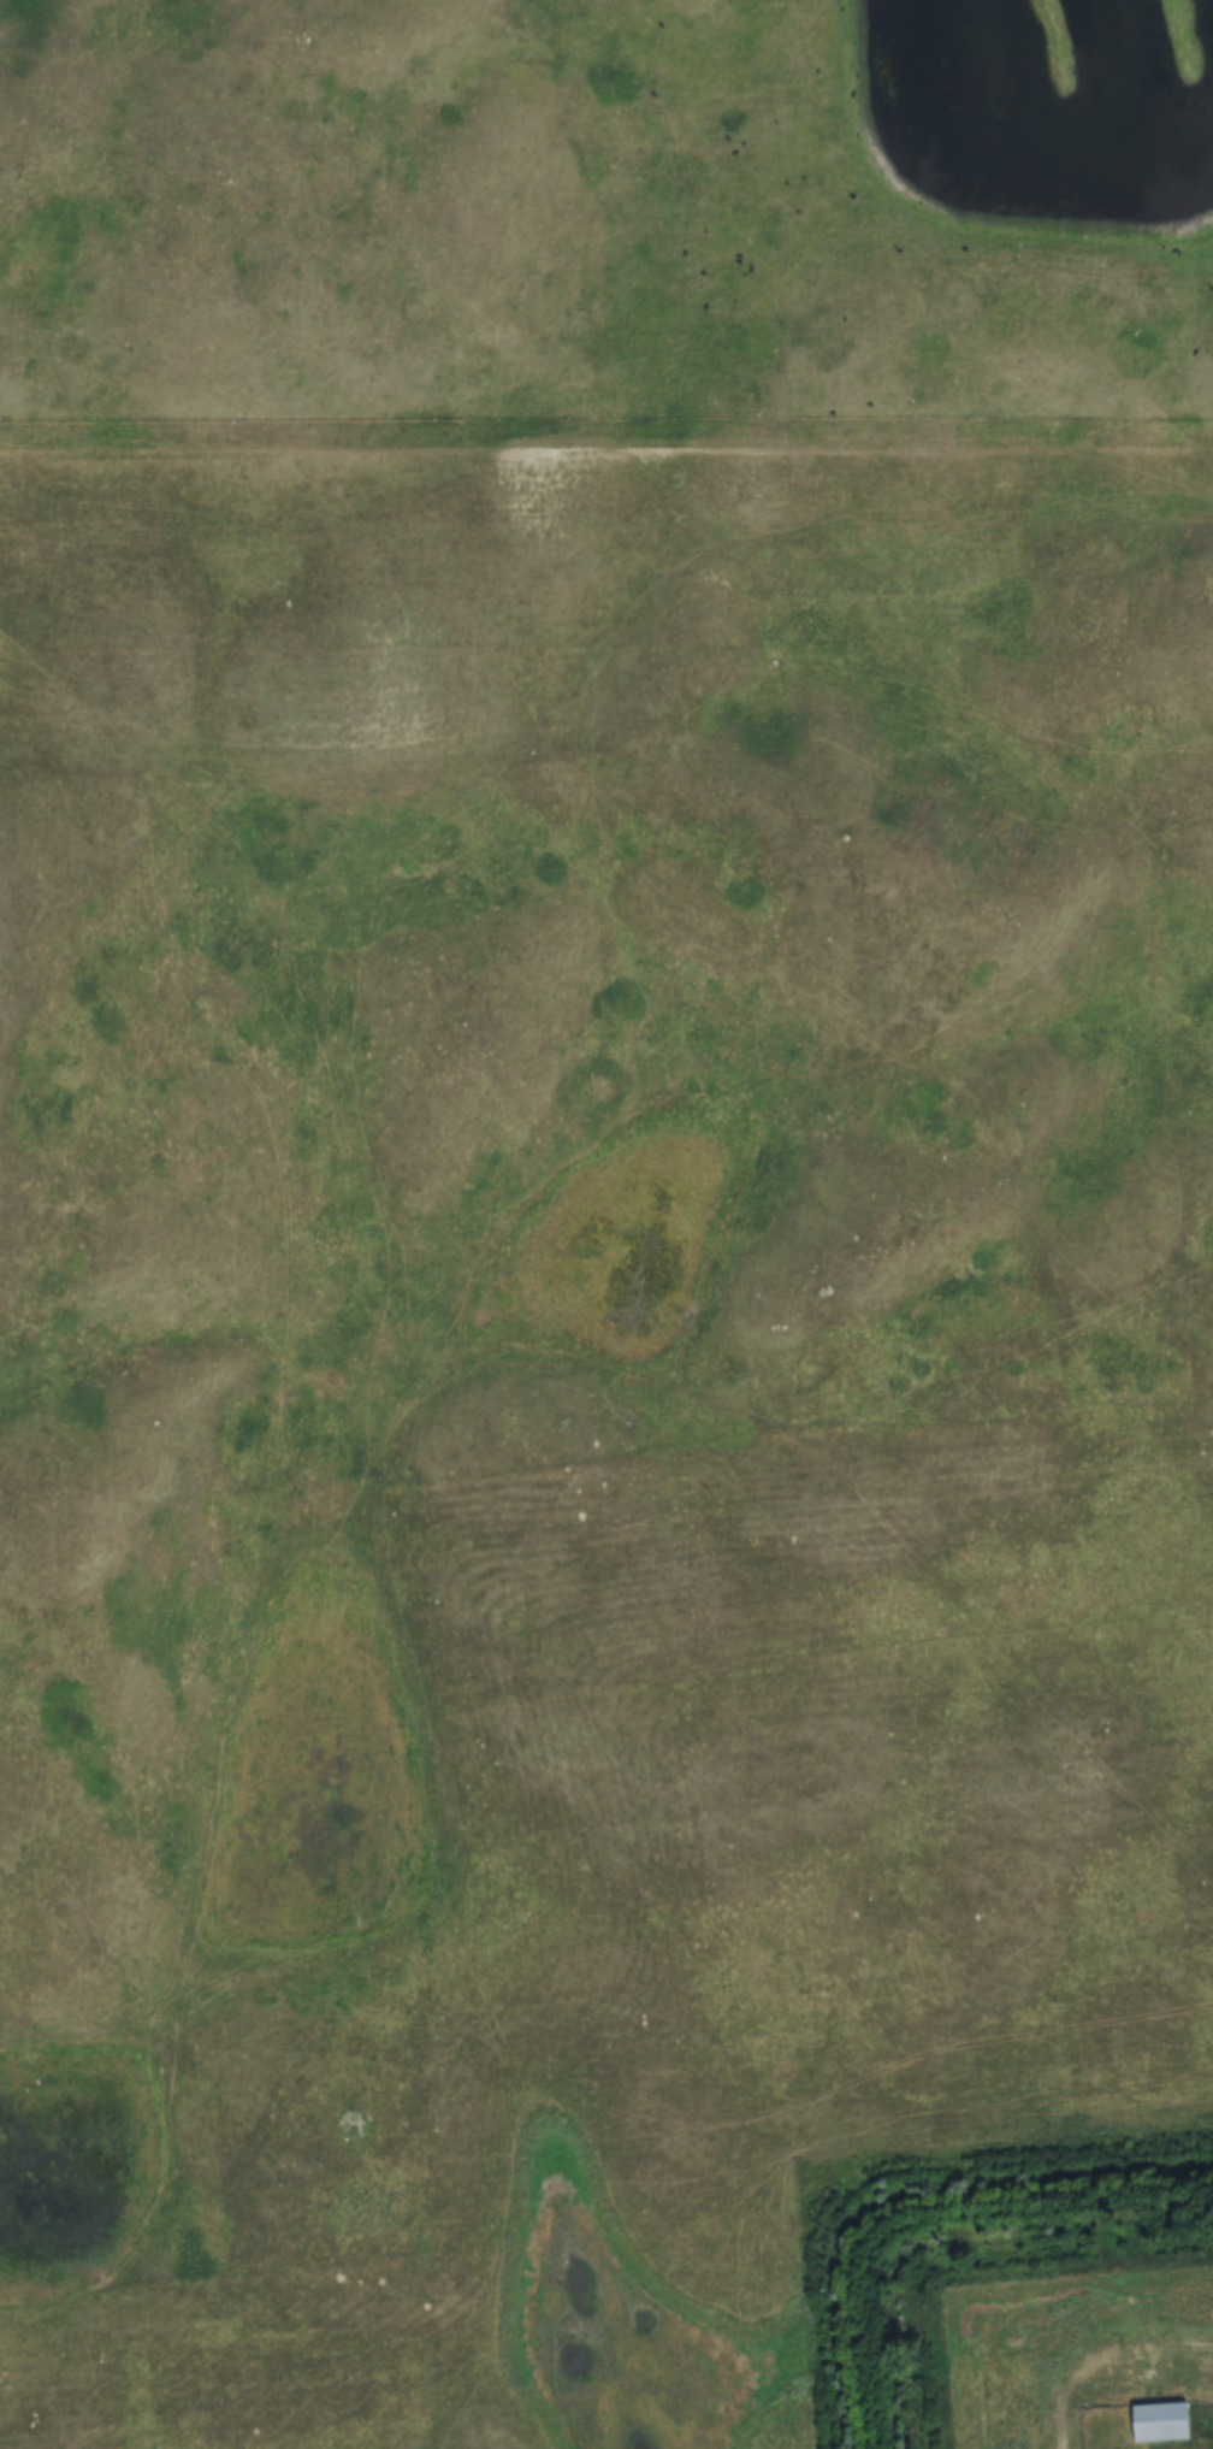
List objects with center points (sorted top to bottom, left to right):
building: (1158, 2423)

